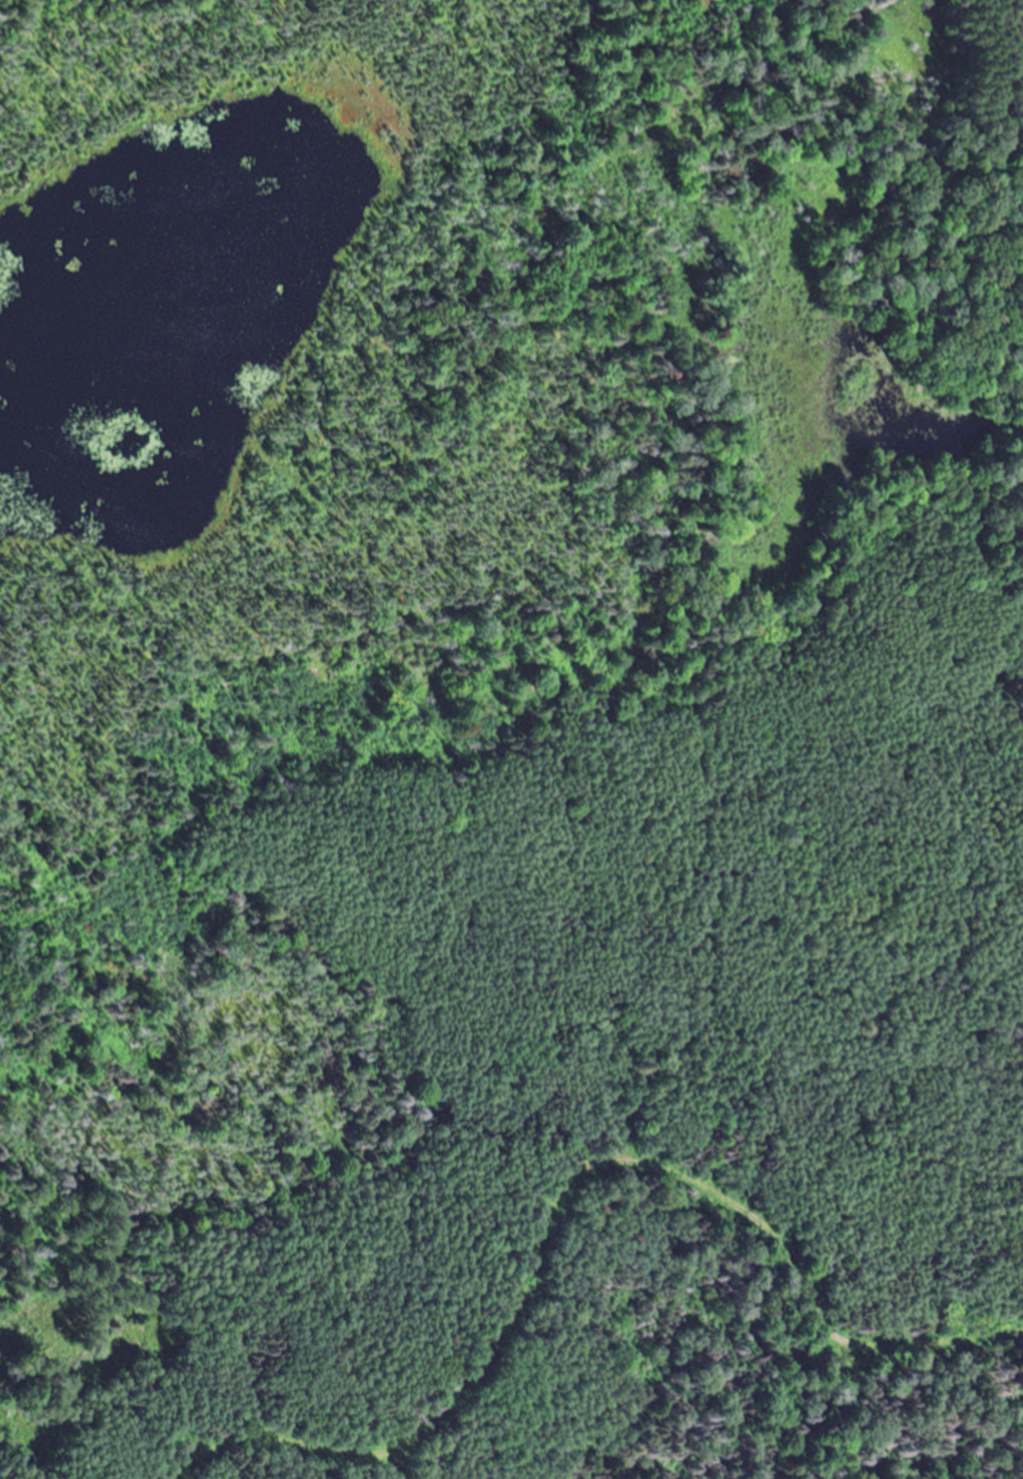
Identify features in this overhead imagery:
road: (565, 1190)

